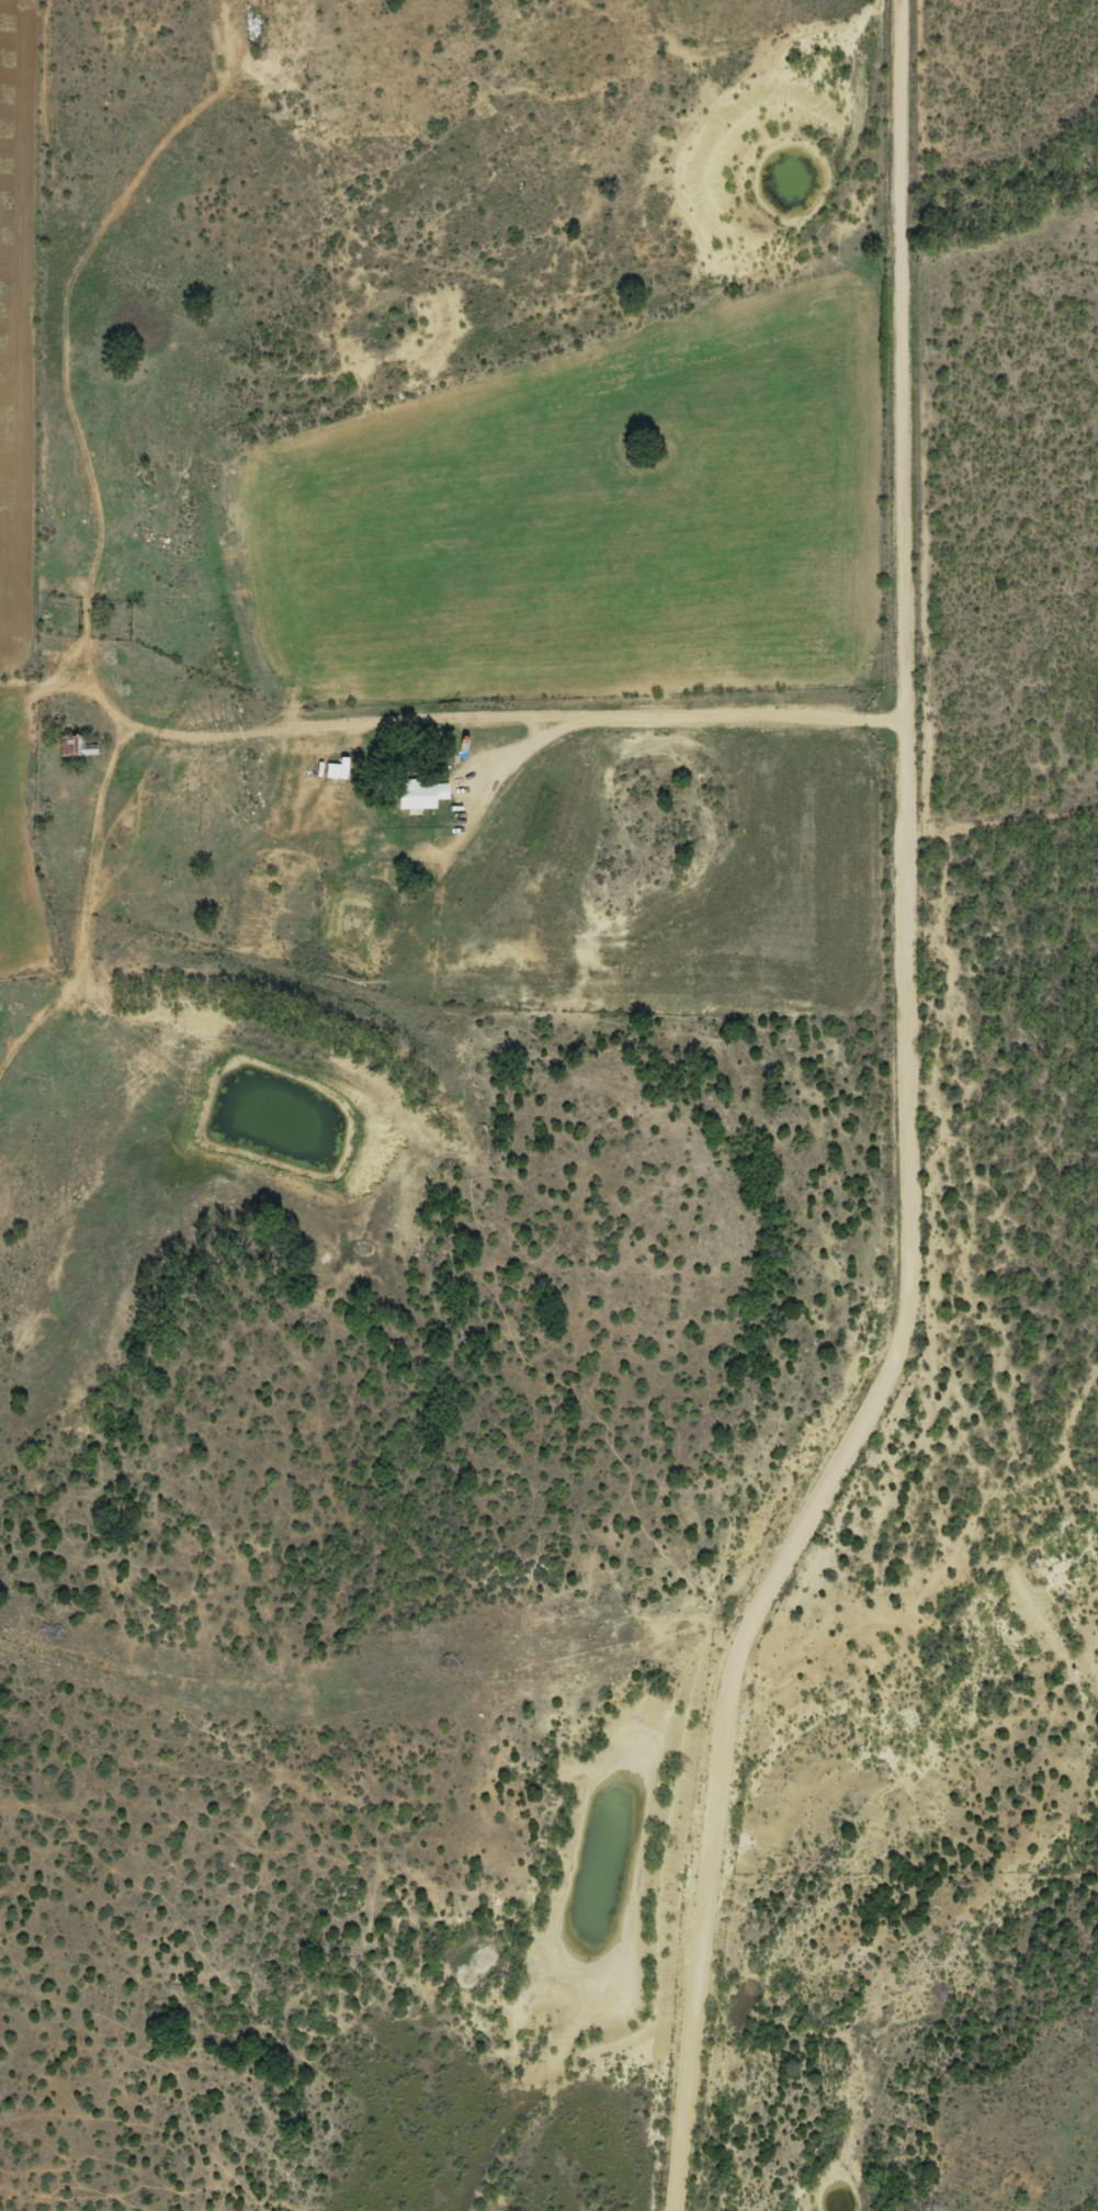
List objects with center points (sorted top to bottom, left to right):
building: (75, 745)
road: (931, 1123)

